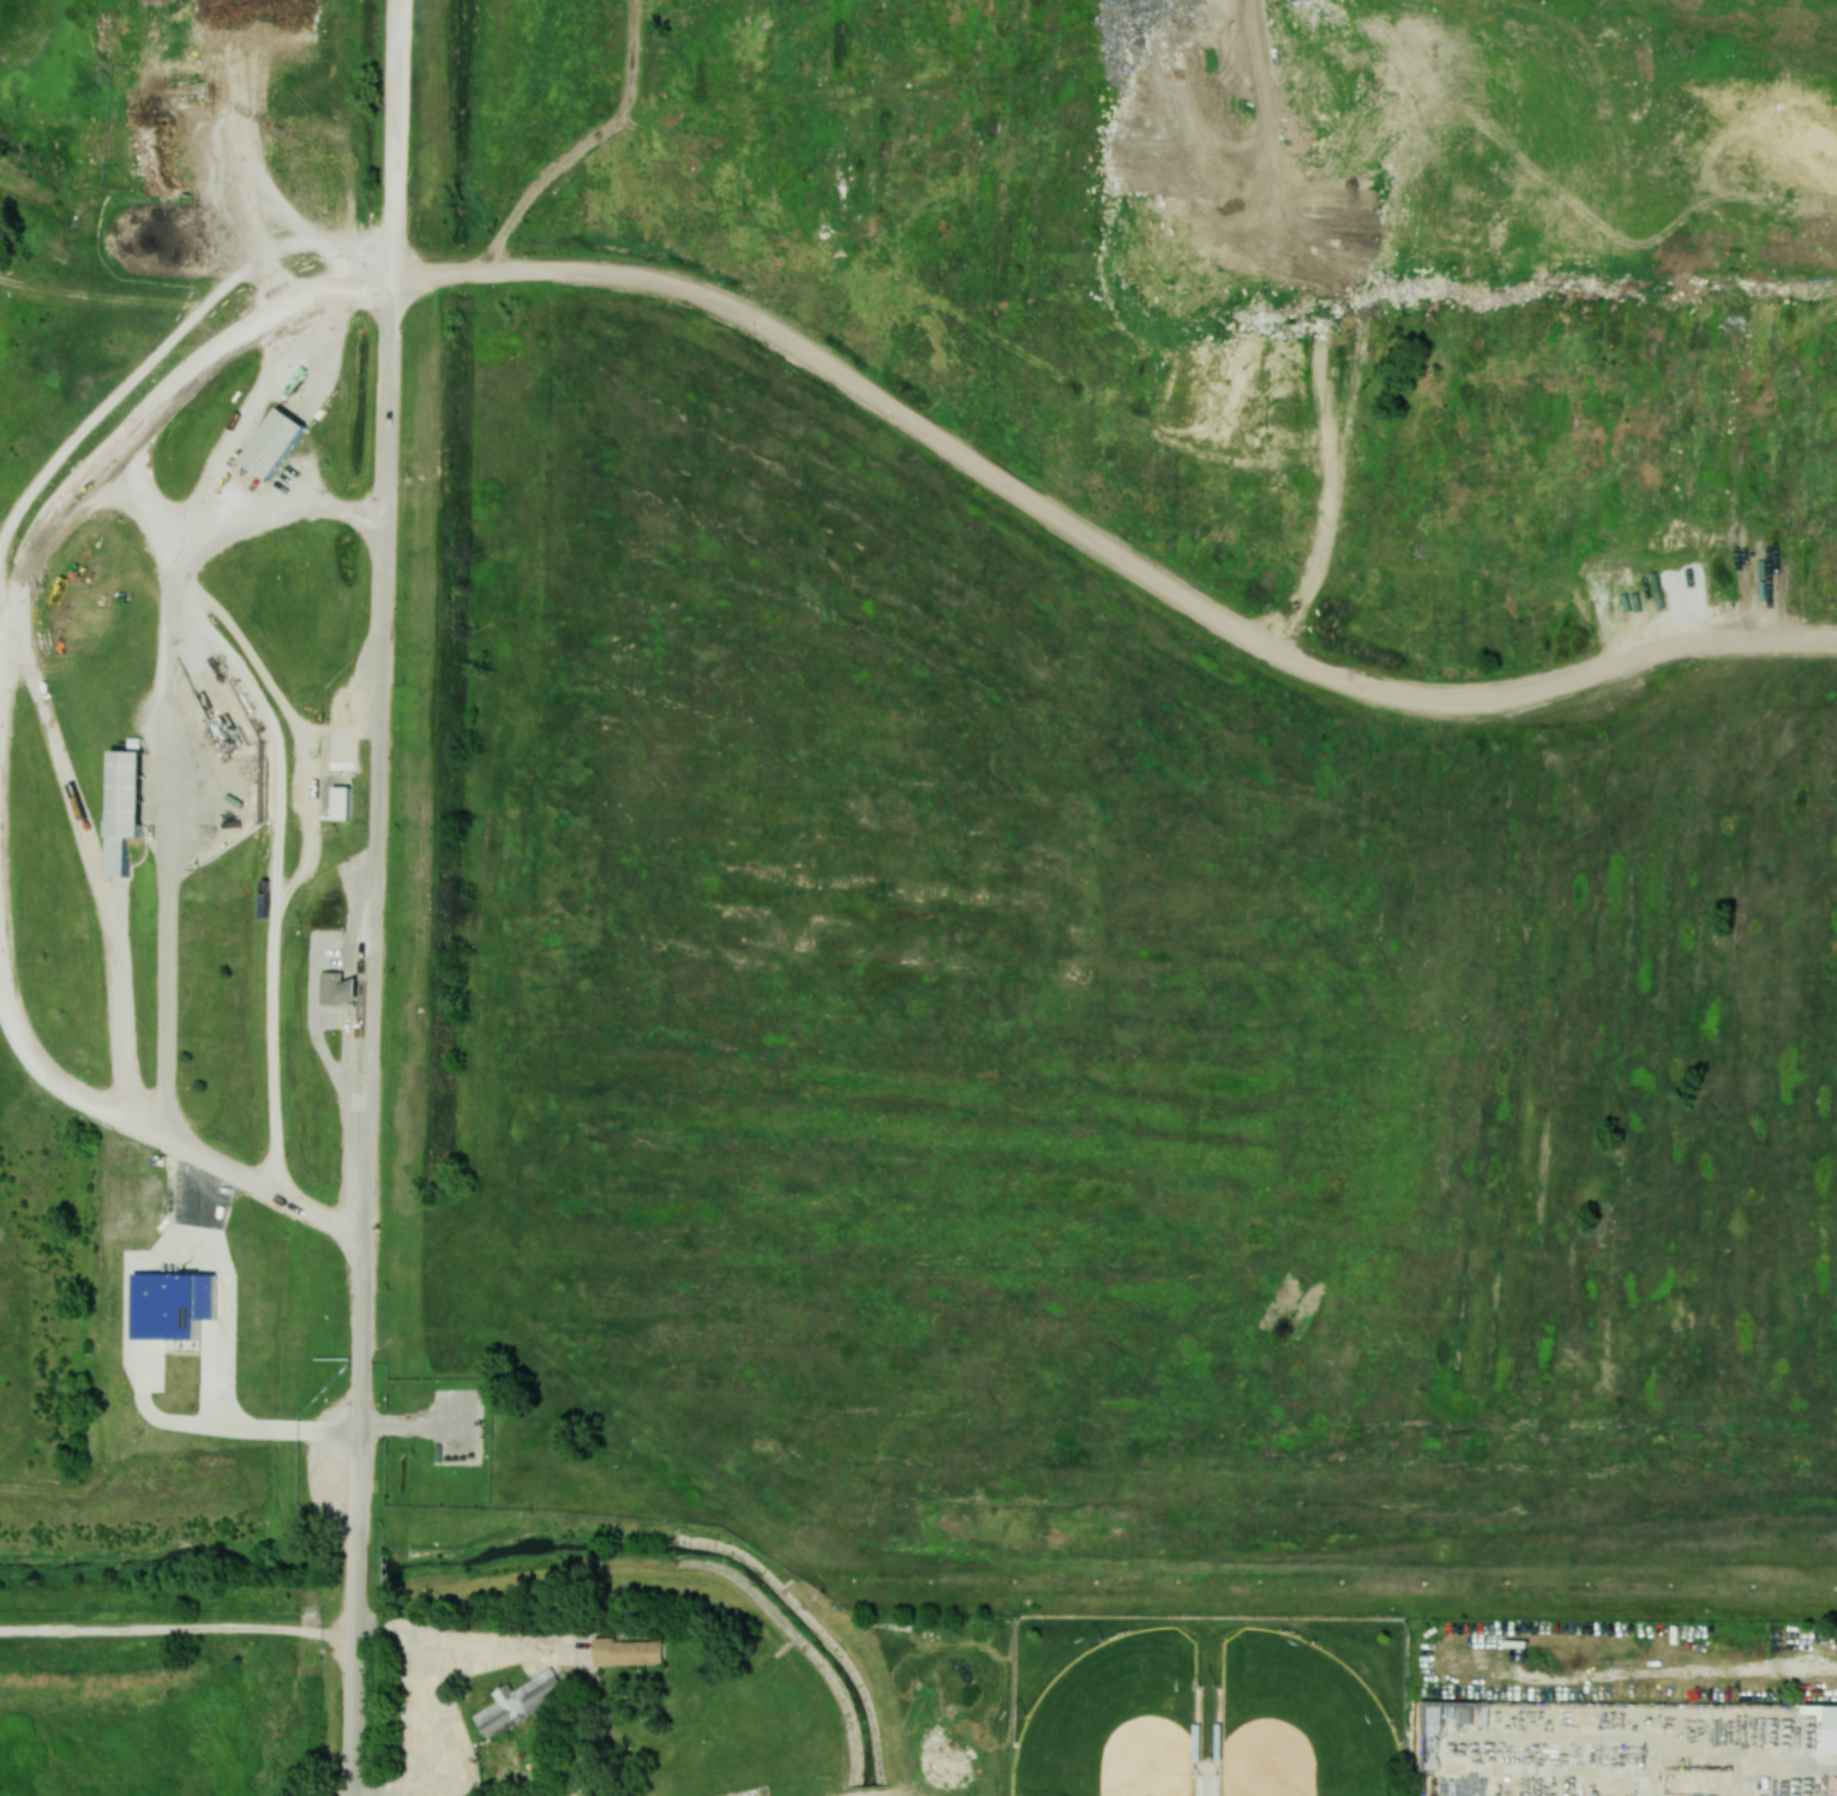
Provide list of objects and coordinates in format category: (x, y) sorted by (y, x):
road: (241, 167)
road: (857, 385)
building: (275, 443)
road: (221, 527)
road: (175, 644)
road: (377, 685)
landfill: (921, 780)
building: (343, 803)
building: (131, 805)
road: (94, 860)
road: (274, 877)
building: (338, 989)
road: (370, 1023)
road: (318, 1039)
road: (157, 1131)
road: (220, 1285)
building: (173, 1304)
road: (271, 1425)
road: (361, 1450)
road: (359, 1562)
road: (179, 1627)
building: (628, 1652)
road: (425, 1686)
park: (166, 1690)
road: (355, 1690)
building: (518, 1701)
park: (1298, 1722)
park: (1113, 1723)
building: (1832, 1729)
road: (1773, 1766)
road: (1207, 1778)

